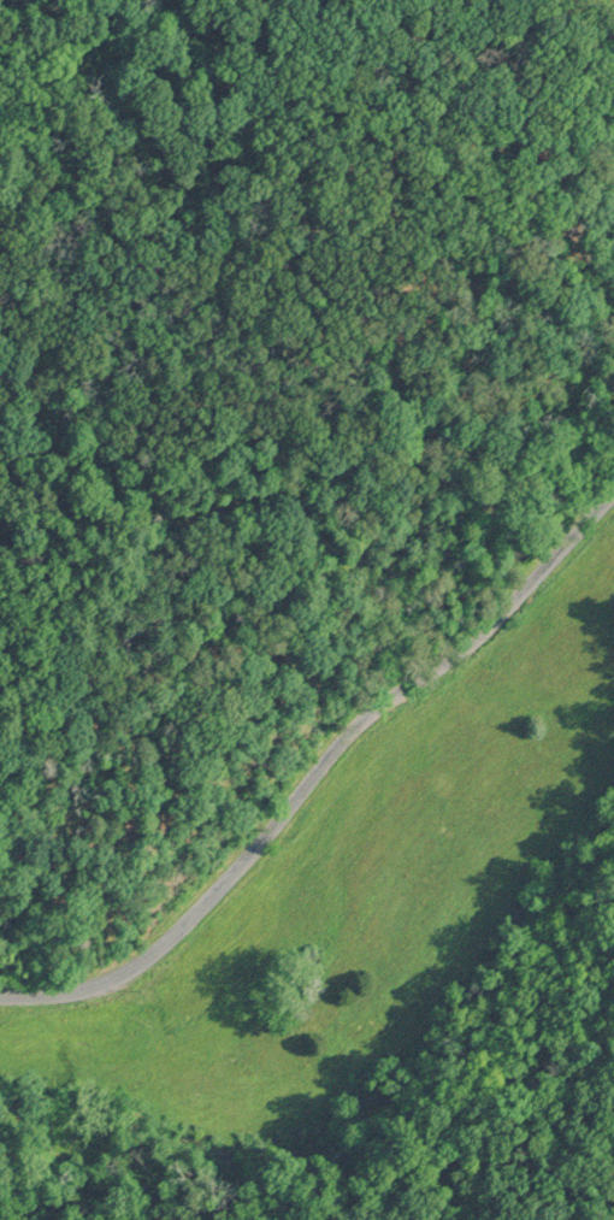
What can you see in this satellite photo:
road: (317, 764)
road: (496, 1133)

